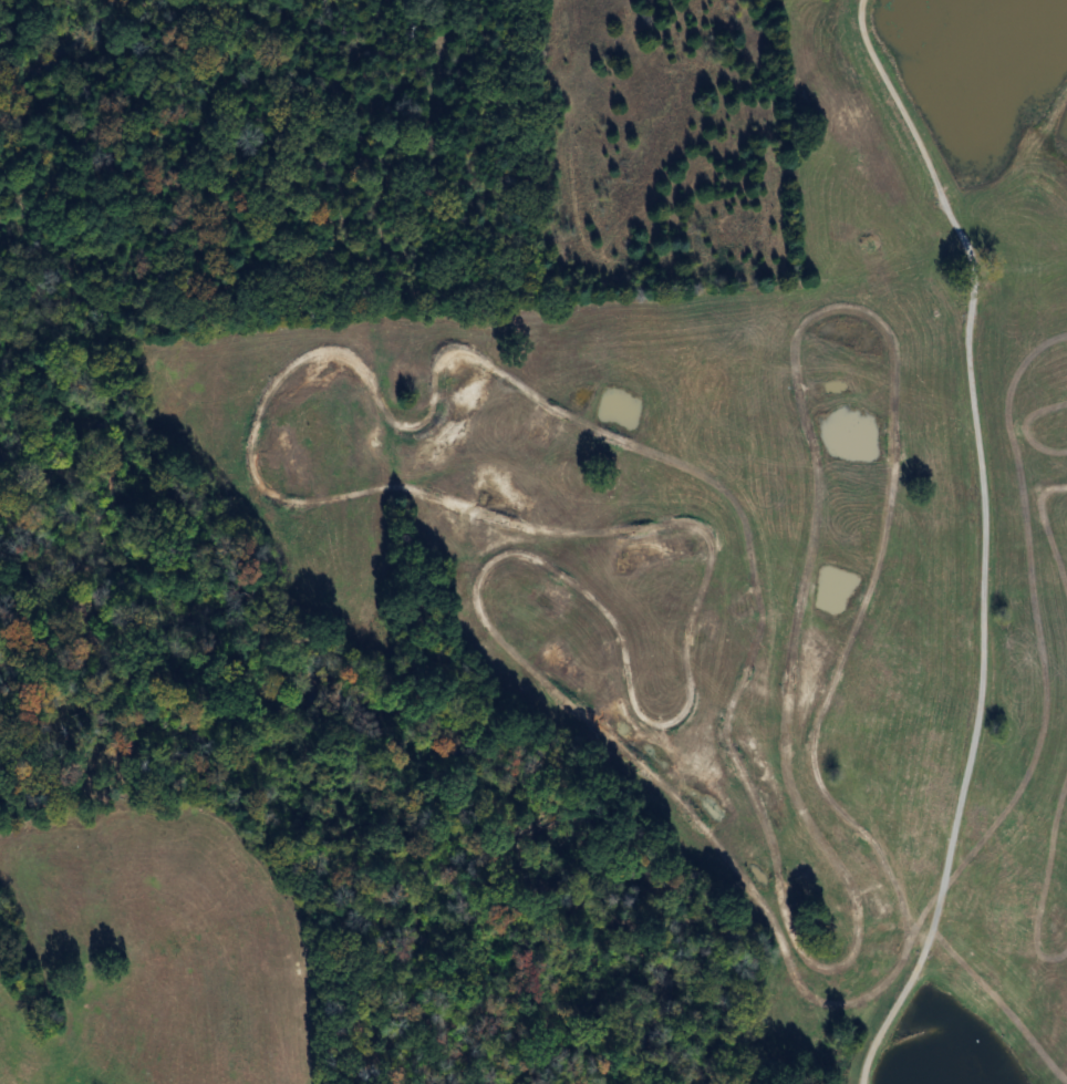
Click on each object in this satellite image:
road: (983, 971)

